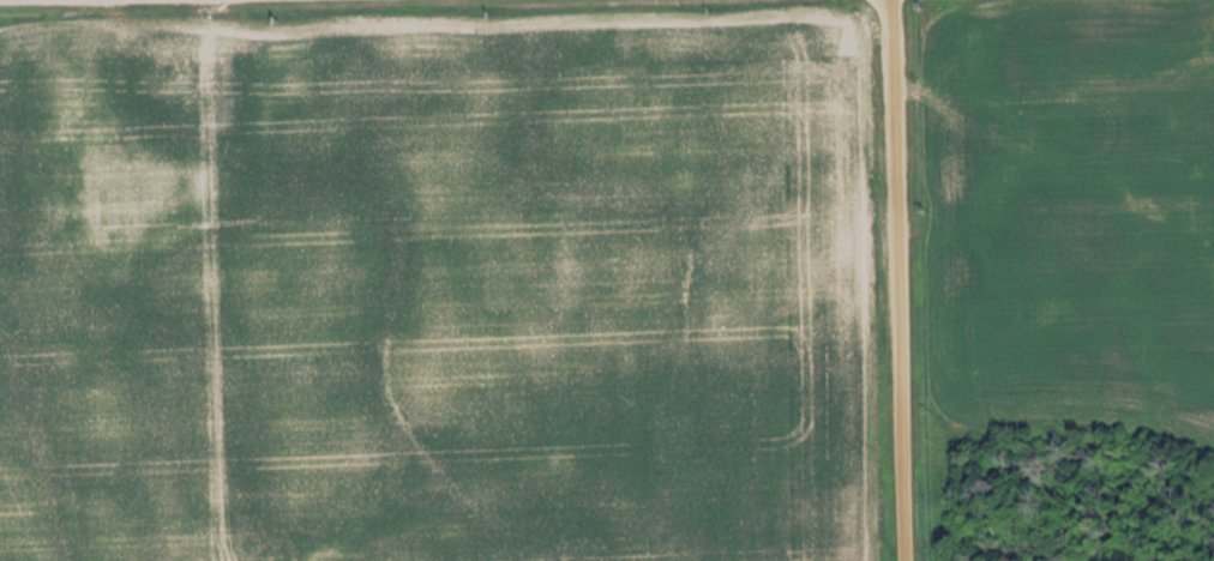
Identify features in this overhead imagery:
road: (893, 280)

